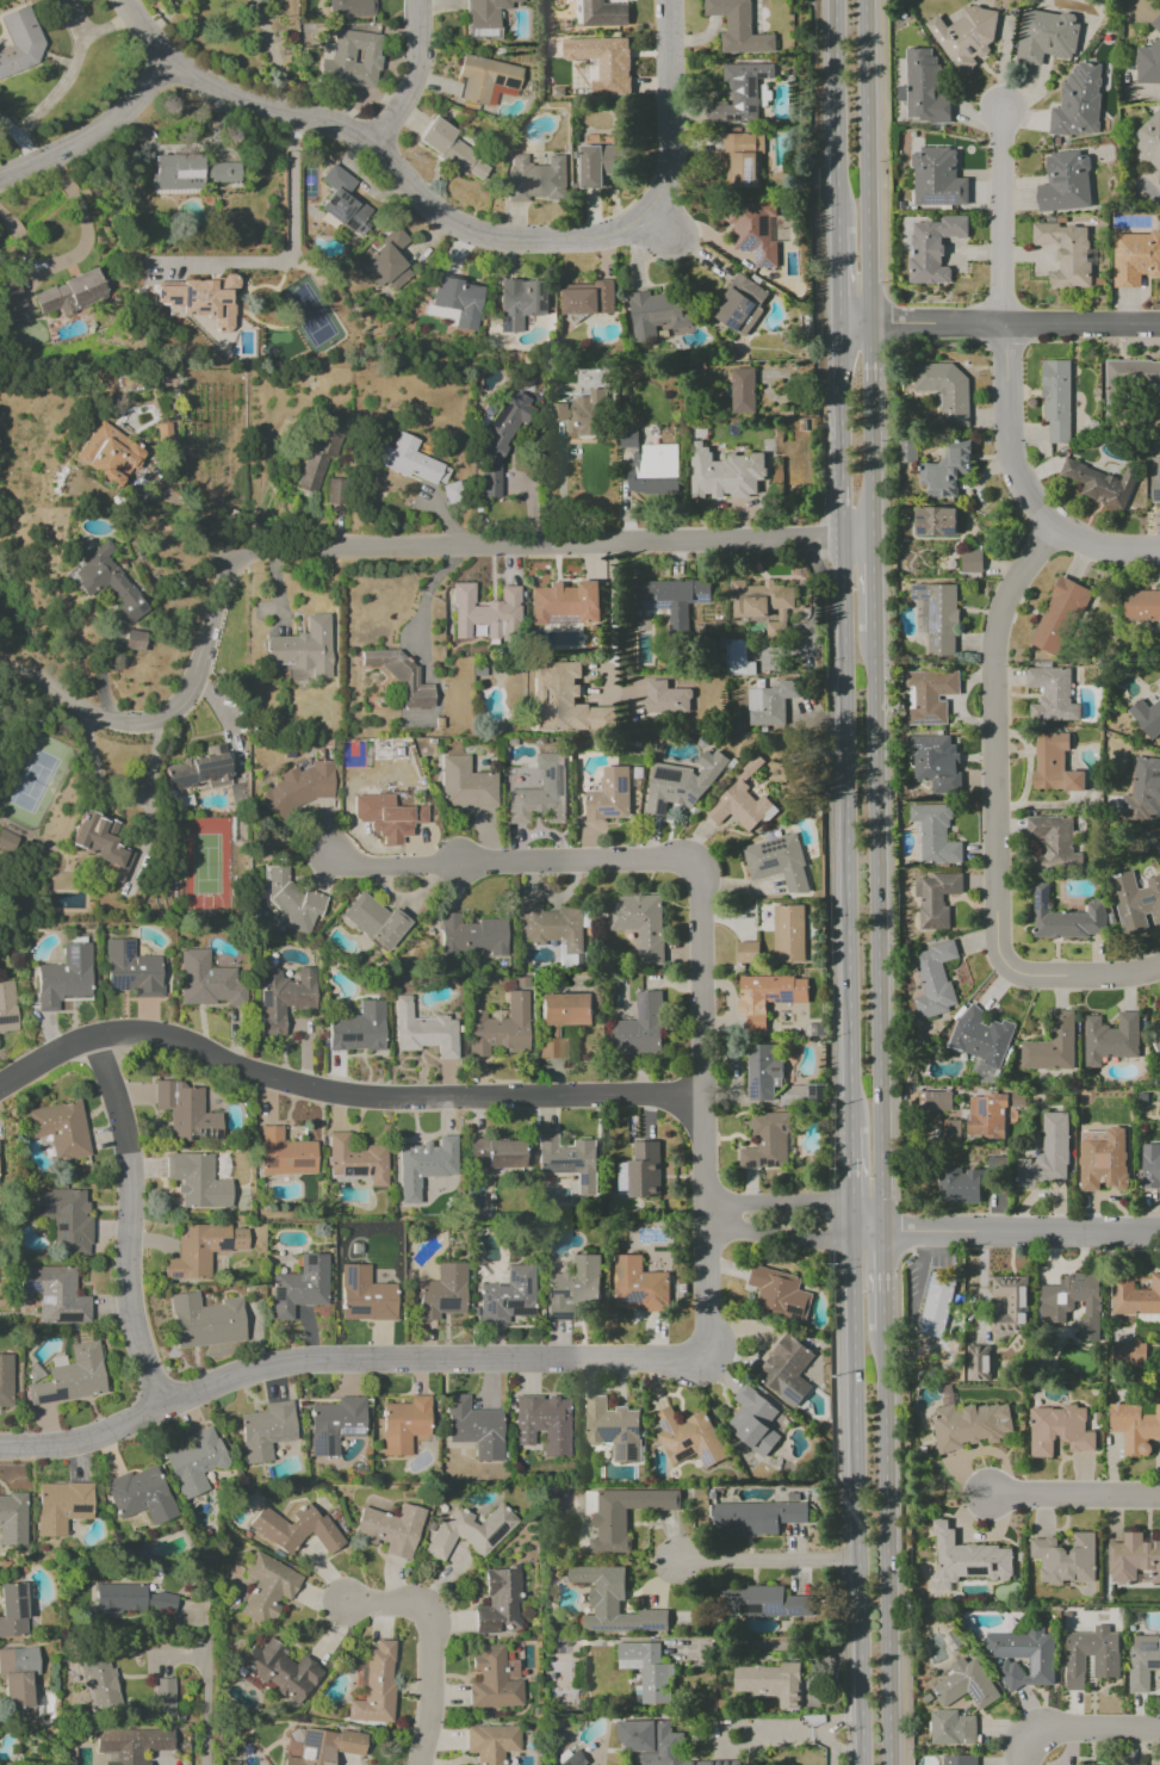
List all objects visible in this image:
building: (349, 8)
building: (603, 13)
building: (484, 17)
building: (738, 27)
building: (1046, 36)
building: (964, 37)
building: (19, 42)
building: (349, 58)
building: (1148, 58)
building: (603, 62)
rooftop solar panel: (761, 75)
road: (415, 76)
building: (485, 80)
rooftop solar panel: (497, 81)
rooftop solar panel: (514, 82)
rooftop solar panel: (752, 87)
building: (923, 88)
building: (739, 93)
building: (1078, 101)
road: (831, 113)
rooftop solar panel: (727, 117)
rooftop solar panel: (737, 118)
road: (89, 134)
building: (1149, 142)
building: (454, 150)
building: (743, 159)
road: (864, 161)
building: (598, 163)
building: (188, 172)
building: (535, 178)
building: (937, 178)
building: (1065, 182)
rooftop solar panel: (336, 197)
rooftop solar panel: (343, 199)
rooftop solar panel: (327, 200)
rooftop solar panel: (932, 200)
rooftop solar panel: (951, 202)
building: (345, 203)
rooftop solar panel: (346, 204)
road: (1000, 216)
rooftop solar panel: (328, 218)
rooftop solar panel: (349, 225)
road: (467, 229)
building: (753, 230)
rooftop solar panel: (359, 231)
rooftop solar panel: (748, 244)
road: (290, 248)
building: (932, 248)
building: (1067, 253)
road: (75, 254)
rooftop solar panel: (757, 254)
building: (1135, 258)
rooftop solar panel: (756, 260)
building: (386, 262)
rooftop solar panel: (765, 266)
road: (833, 274)
building: (69, 293)
building: (12, 297)
building: (201, 298)
building: (588, 298)
rooftop solar panel: (544, 299)
building: (520, 302)
building: (454, 303)
building: (740, 304)
rooftop solar panel: (749, 306)
building: (656, 315)
rooftop solar panel: (737, 316)
road: (917, 322)
road: (1080, 322)
rooftop solar panel: (732, 326)
rooftop solar panel: (503, 327)
road: (868, 358)
road: (835, 376)
building: (1127, 382)
building: (742, 390)
building: (944, 391)
building: (1056, 400)
rooftop solar panel: (497, 414)
building: (581, 414)
building: (501, 440)
building: (906, 451)
building: (320, 453)
building: (106, 454)
building: (410, 462)
road: (868, 467)
building: (653, 470)
building: (947, 470)
building: (724, 473)
building: (1154, 481)
building: (1099, 483)
road: (836, 484)
road: (562, 485)
road: (1019, 485)
building: (452, 493)
road: (182, 515)
building: (936, 521)
rooftop solar panel: (923, 522)
rooftop solar panel: (922, 534)
rooftop solar panel: (951, 534)
road: (376, 547)
building: (970, 562)
building: (107, 581)
road: (869, 587)
rooftop solar panel: (919, 589)
building: (671, 599)
rooftop solar panel: (700, 599)
building: (565, 603)
building: (762, 605)
building: (1141, 605)
rooftop solar panel: (658, 606)
road: (423, 608)
rooftop solar panel: (931, 609)
building: (485, 612)
building: (936, 615)
building: (1057, 615)
road: (608, 618)
rooftop solar panel: (932, 626)
building: (134, 639)
rooftop solar panel: (935, 643)
building: (302, 650)
building: (734, 657)
building: (399, 676)
building: (1050, 694)
building: (929, 695)
building: (665, 699)
building: (565, 700)
building: (769, 702)
building: (1147, 717)
rooftop solar panel: (929, 724)
rooftop solar panel: (918, 725)
road: (994, 744)
building: (933, 762)
building: (1054, 764)
rooftop solar panel: (206, 766)
building: (199, 769)
rooftop solar panel: (216, 772)
rooftop solar panel: (546, 773)
rooftop solar panel: (559, 778)
rooftop solar panel: (181, 782)
building: (681, 784)
building: (300, 785)
building: (465, 785)
rooftop solar panel: (622, 785)
building: (1143, 789)
rooftop solar panel: (682, 791)
building: (540, 792)
rooftop solar panel: (558, 794)
building: (608, 795)
building: (401, 799)
rooftop solar panel: (691, 800)
rooftop solar panel: (560, 801)
road: (116, 803)
building: (740, 804)
rooftop solar panel: (659, 809)
rooftop solar panel: (608, 812)
building: (386, 817)
road: (840, 835)
building: (933, 835)
building: (1155, 841)
building: (7, 842)
building: (99, 843)
building: (776, 862)
rooftop solar panel: (770, 866)
rooftop solar panel: (1047, 896)
building: (935, 899)
rooftop solar panel: (1038, 900)
building: (1135, 903)
building: (292, 904)
building: (1065, 918)
building: (373, 921)
road: (699, 921)
building: (640, 924)
building: (551, 925)
road: (875, 927)
building: (788, 934)
building: (471, 936)
rooftop solar panel: (126, 949)
building: (748, 952)
building: (131, 971)
road: (1085, 977)
building: (63, 978)
building: (933, 979)
building: (209, 980)
rooftop solar panel: (120, 983)
rooftop solar panel: (763, 996)
rooftop solar panel: (771, 996)
building: (284, 997)
building: (767, 997)
rooftop solar panel: (784, 997)
rooftop solar panel: (774, 999)
building: (7, 1007)
building: (565, 1009)
building: (500, 1026)
building: (640, 1027)
building: (358, 1028)
building: (423, 1030)
building: (1155, 1038)
rooftop solar panel: (345, 1039)
building: (1110, 1039)
building: (981, 1040)
building: (1050, 1045)
rooftop solar panel: (773, 1071)
building: (762, 1072)
rooftop solar panel: (752, 1089)
rooftop solar panel: (814, 1091)
rooftop solar panel: (821, 1092)
road: (339, 1096)
building: (933, 1101)
rooftop solar panel: (980, 1108)
building: (186, 1113)
building: (991, 1113)
building: (60, 1128)
building: (765, 1142)
building: (285, 1153)
building: (494, 1153)
building: (1046, 1154)
building: (356, 1159)
building: (1102, 1159)
rooftop solar panel: (558, 1160)
building: (569, 1160)
rooftop solar panel: (762, 1162)
rooftop solar panel: (303, 1164)
rooftop solar panel: (769, 1164)
rooftop solar panel: (777, 1164)
building: (424, 1165)
rooftop solar panel: (751, 1166)
building: (1150, 1166)
rooftop solar panel: (349, 1170)
building: (644, 1170)
road: (846, 1176)
building: (197, 1181)
building: (959, 1185)
rooftop solar panel: (44, 1206)
building: (64, 1218)
rooftop solar panel: (61, 1219)
road: (845, 1219)
road: (129, 1221)
rooftop solar panel: (61, 1227)
road: (1003, 1227)
rooftop solar panel: (60, 1240)
rooftop solar panel: (222, 1244)
building: (204, 1251)
rooftop solar panel: (302, 1262)
road: (881, 1275)
rooftop solar panel: (343, 1276)
rooftop solar panel: (514, 1281)
building: (299, 1286)
rooftop solar panel: (525, 1286)
building: (638, 1286)
rooftop solar panel: (25, 1287)
building: (573, 1289)
building: (441, 1292)
rooftop solar panel: (556, 1292)
building: (778, 1294)
building: (364, 1295)
building: (56, 1296)
building: (507, 1296)
building: (1134, 1296)
rooftop solar panel: (44, 1299)
rooftop solar panel: (484, 1299)
building: (1007, 1302)
rooftop solar panel: (441, 1305)
building: (937, 1305)
rooftop solar panel: (489, 1307)
building: (1056, 1307)
rooftop solar panel: (519, 1309)
rooftop solar panel: (354, 1312)
rooftop solar panel: (557, 1317)
building: (205, 1320)
building: (1128, 1352)
road: (340, 1362)
building: (978, 1362)
building: (786, 1369)
building: (70, 1376)
building: (5, 1380)
building: (752, 1420)
building: (542, 1423)
building: (335, 1424)
building: (404, 1424)
rooftop solar panel: (664, 1425)
building: (969, 1425)
building: (1135, 1426)
building: (474, 1428)
building: (613, 1429)
rooftop solar panel: (635, 1430)
building: (1059, 1430)
building: (267, 1431)
rooftop solar panel: (608, 1435)
building: (688, 1437)
rooftop solar panel: (687, 1444)
rooftop solar panel: (317, 1445)
rooftop solar panel: (323, 1445)
rooftop solar panel: (622, 1453)
rooftop solar panel: (631, 1455)
rooftop solar panel: (684, 1456)
rooftop solar panel: (707, 1460)
building: (194, 1461)
road: (852, 1493)
building: (139, 1494)
road: (1073, 1497)
building: (61, 1506)
rooftop solar panel: (76, 1509)
building: (621, 1513)
building: (755, 1516)
building: (12, 1518)
building: (294, 1529)
building: (391, 1529)
building: (469, 1531)
rooftop solar panel: (495, 1536)
road: (886, 1547)
road: (767, 1559)
building: (1065, 1559)
building: (1133, 1559)
building: (964, 1560)
building: (267, 1587)
rooftop solar panel: (19, 1588)
building: (131, 1600)
building: (498, 1602)
building: (613, 1603)
building: (761, 1603)
road: (384, 1608)
rooftop solar panel: (748, 1609)
building: (12, 1610)
rooftop solar panel: (19, 1610)
rooftop solar panel: (780, 1610)
rooftop solar panel: (653, 1628)
rooftop solar panel: (608, 1629)
road: (773, 1645)
rooftop solar panel: (1148, 1646)
building: (1091, 1655)
building: (1023, 1656)
building: (1143, 1662)
rooftop solar panel: (1152, 1662)
building: (646, 1670)
building: (281, 1672)
building: (17, 1677)
building: (492, 1679)
road: (204, 1680)
building: (99, 1682)
building: (769, 1683)
building: (374, 1685)
building: (964, 1685)
road: (432, 1686)
building: (163, 1696)
building: (951, 1728)
road: (1080, 1728)
road: (800, 1733)
rooftop solar panel: (309, 1740)
building: (490, 1742)
building: (130, 1744)
building: (655, 1744)
road: (835, 1744)
building: (324, 1746)
rooftop solar panel: (306, 1755)
building: (570, 1758)
building: (959, 1760)
road: (167, 1763)
building: (1128, 1764)

